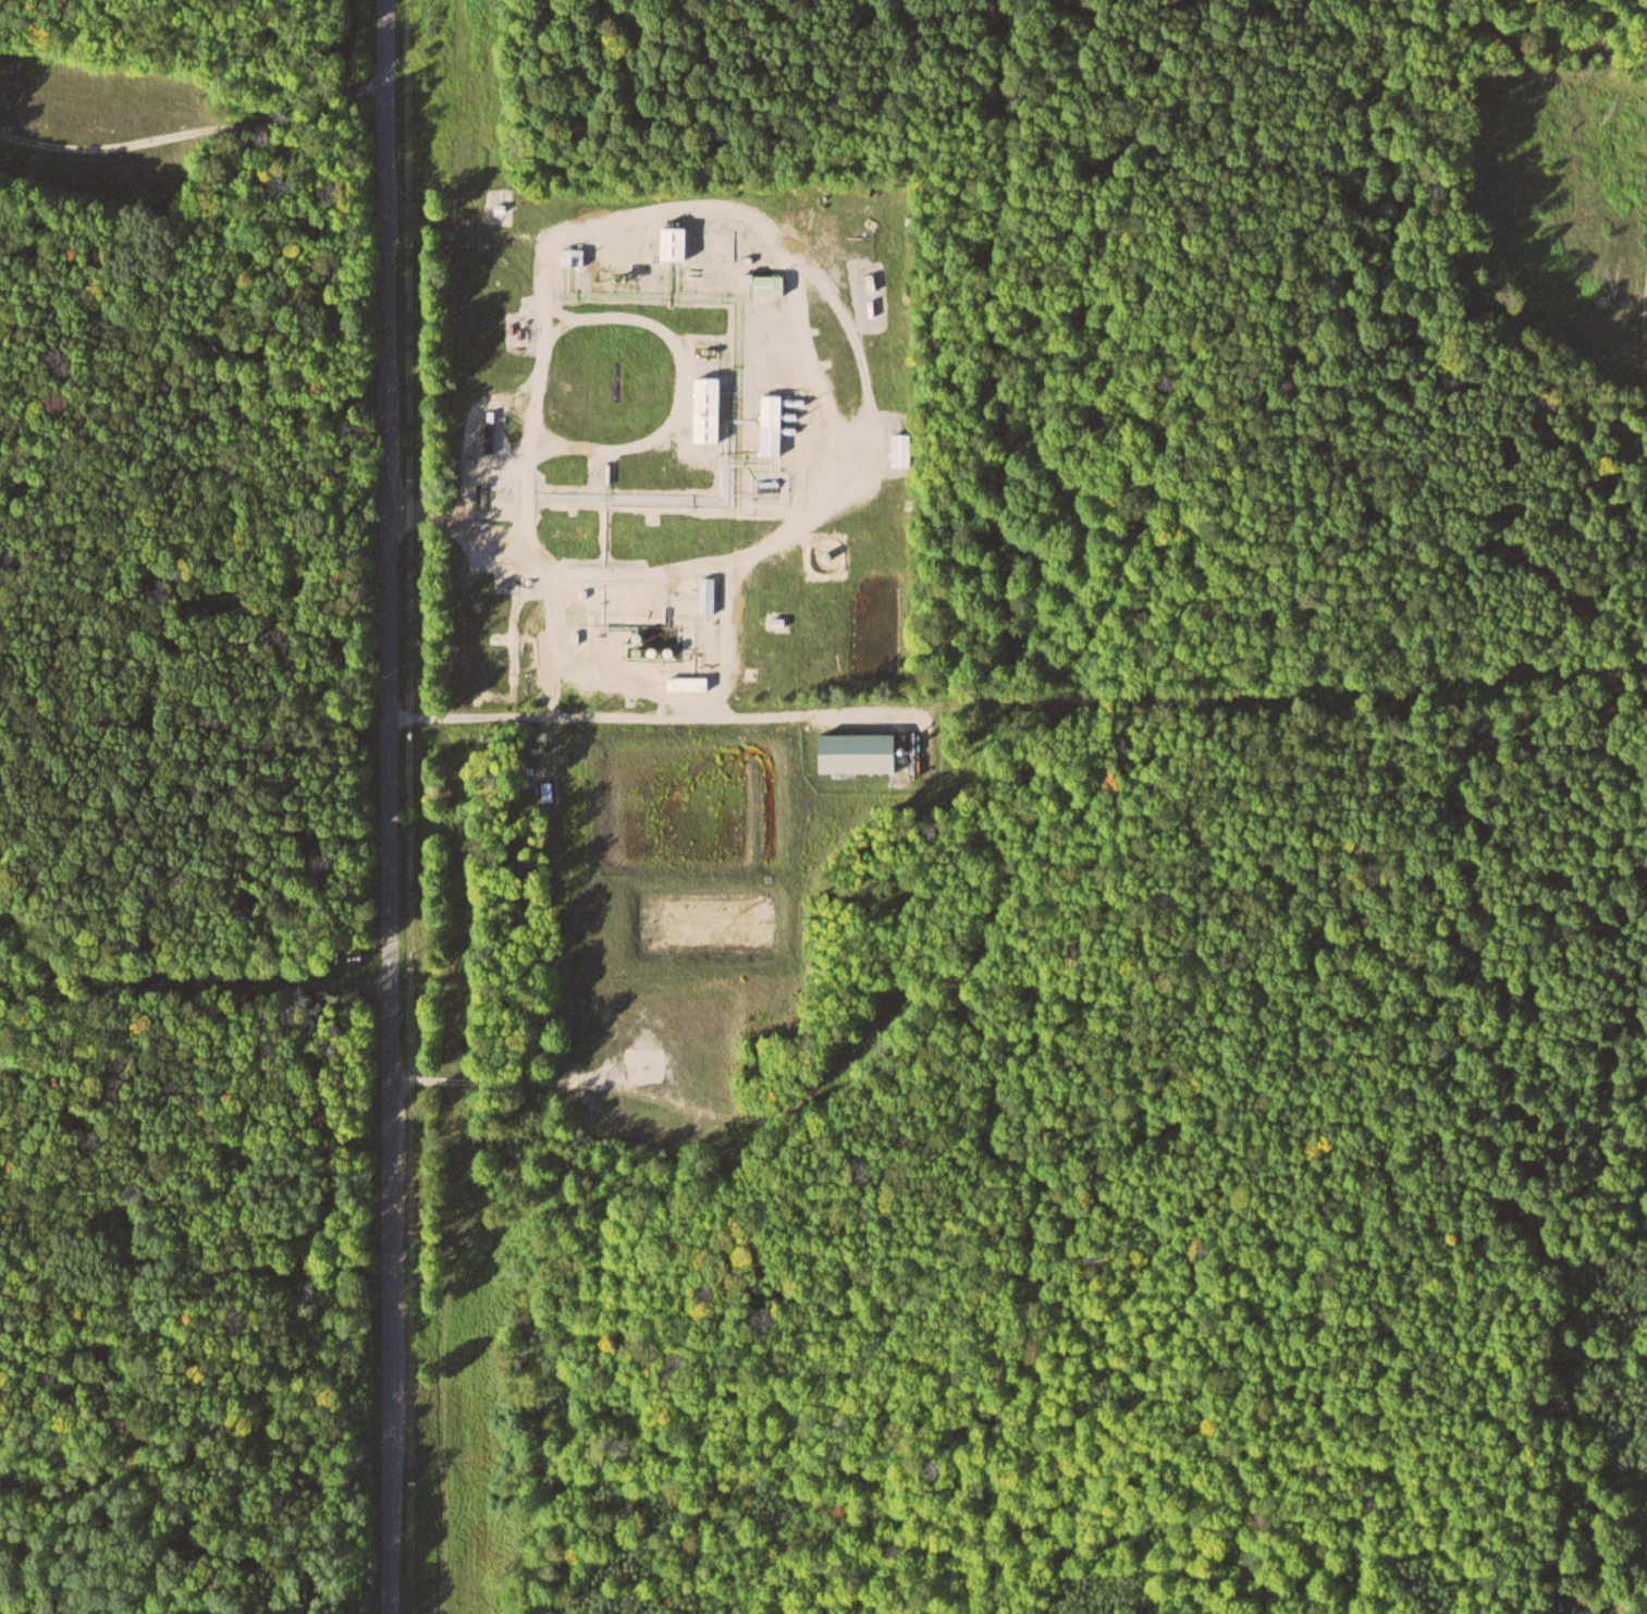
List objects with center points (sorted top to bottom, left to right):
road: (196, 134)
building: (668, 242)
building: (703, 408)
building: (769, 423)
building: (899, 449)
building: (705, 594)
building: (686, 683)
building: (855, 750)
road: (390, 807)
road: (195, 983)

